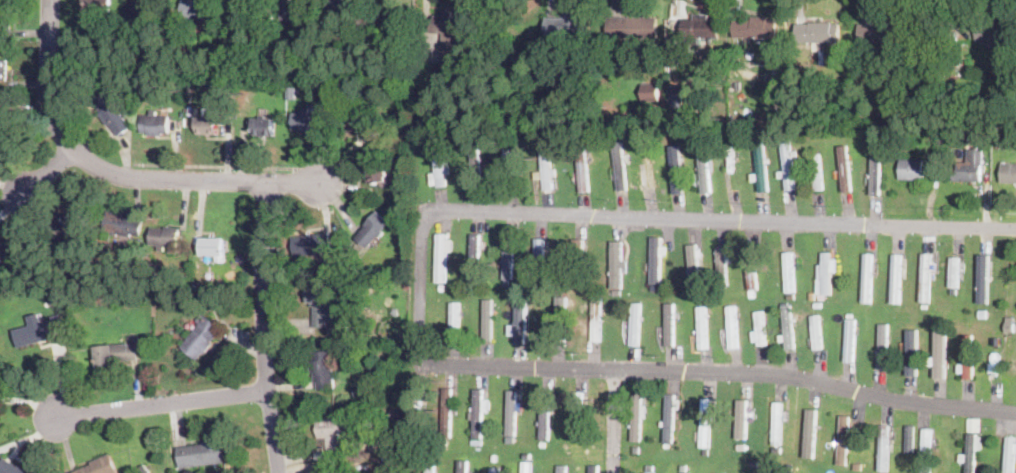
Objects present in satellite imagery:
building: (376, 0)
building: (396, 0)
building: (340, 5)
building: (95, 6)
building: (195, 9)
building: (142, 10)
building: (239, 10)
building: (293, 10)
building: (254, 12)
building: (5, 15)
building: (568, 24)
building: (701, 26)
building: (632, 27)
building: (755, 27)
building: (883, 32)
building: (997, 32)
building: (818, 33)
building: (448, 36)
building: (675, 36)
building: (519, 58)
building: (3, 69)
building: (229, 85)
building: (291, 91)
building: (650, 92)
building: (675, 94)
building: (939, 103)
building: (558, 105)
building: (861, 110)
building: (112, 113)
building: (674, 113)
building: (2, 119)
building: (306, 120)
building: (354, 121)
building: (152, 122)
building: (249, 122)
building: (208, 123)
building: (262, 126)
building: (974, 131)
building: (1001, 134)
building: (508, 135)
building: (421, 137)
building: (464, 137)
building: (533, 141)
building: (476, 166)
building: (620, 166)
building: (788, 166)
building: (969, 166)
road: (215, 167)
building: (439, 167)
building: (510, 167)
building: (582, 167)
building: (648, 167)
building: (760, 167)
building: (844, 167)
building: (546, 168)
building: (676, 168)
building: (704, 168)
building: (876, 169)
building: (911, 169)
building: (817, 172)
building: (1009, 172)
building: (376, 173)
building: (553, 173)
road: (46, 175)
building: (538, 176)
road: (115, 178)
building: (406, 184)
building: (553, 185)
road: (643, 217)
building: (72, 219)
building: (120, 222)
building: (373, 229)
building: (165, 236)
building: (312, 244)
building: (213, 248)
building: (584, 251)
building: (663, 251)
building: (11, 252)
building: (475, 256)
building: (509, 256)
building: (729, 256)
building: (440, 258)
building: (539, 259)
building: (655, 260)
building: (577, 263)
building: (617, 264)
building: (692, 264)
building: (835, 264)
building: (722, 266)
building: (751, 269)
building: (789, 272)
building: (826, 272)
building: (954, 272)
building: (151, 273)
building: (867, 277)
building: (982, 277)
building: (897, 278)
building: (925, 278)
building: (820, 281)
building: (506, 282)
building: (193, 287)
building: (654, 288)
building: (340, 291)
building: (520, 292)
building: (812, 294)
building: (490, 295)
building: (791, 295)
building: (54, 300)
building: (320, 304)
building: (818, 304)
building: (813, 311)
building: (395, 312)
building: (560, 318)
building: (596, 319)
building: (519, 320)
building: (454, 321)
building: (487, 321)
building: (669, 323)
building: (635, 324)
building: (1009, 324)
building: (732, 326)
building: (788, 326)
road: (263, 328)
building: (702, 328)
building: (760, 329)
building: (38, 331)
building: (817, 332)
building: (201, 336)
building: (782, 338)
building: (851, 338)
building: (883, 345)
building: (844, 350)
building: (911, 352)
building: (115, 354)
building: (939, 357)
building: (967, 357)
building: (998, 357)
building: (323, 369)
road: (718, 371)
building: (362, 388)
building: (416, 403)
road: (156, 404)
building: (677, 404)
building: (486, 405)
building: (396, 412)
building: (447, 412)
building: (644, 412)
building: (478, 413)
building: (512, 415)
building: (544, 415)
building: (577, 417)
building: (637, 417)
building: (669, 418)
road: (612, 421)
building: (742, 422)
building: (629, 423)
building: (705, 423)
building: (777, 423)
building: (974, 423)
building: (663, 424)
building: (399, 427)
building: (358, 429)
building: (810, 430)
building: (334, 434)
building: (393, 438)
building: (909, 438)
building: (843, 440)
building: (322, 441)
building: (477, 443)
building: (543, 443)
building: (979, 443)
building: (511, 446)
building: (666, 446)
building: (884, 448)
building: (777, 449)
building: (636, 450)
building: (926, 450)
building: (463, 452)
building: (972, 452)
building: (430, 453)
building: (202, 454)
building: (1010, 455)
building: (321, 456)
building: (521, 457)
building: (910, 457)
building: (494, 458)
building: (964, 458)
building: (101, 466)
building: (858, 466)
building: (462, 467)
building: (684, 467)
building: (12, 468)
building: (430, 468)
building: (562, 468)
building: (593, 468)
building: (789, 468)
building: (144, 469)
building: (495, 470)
building: (527, 470)
building: (649, 472)
building: (684, 472)

